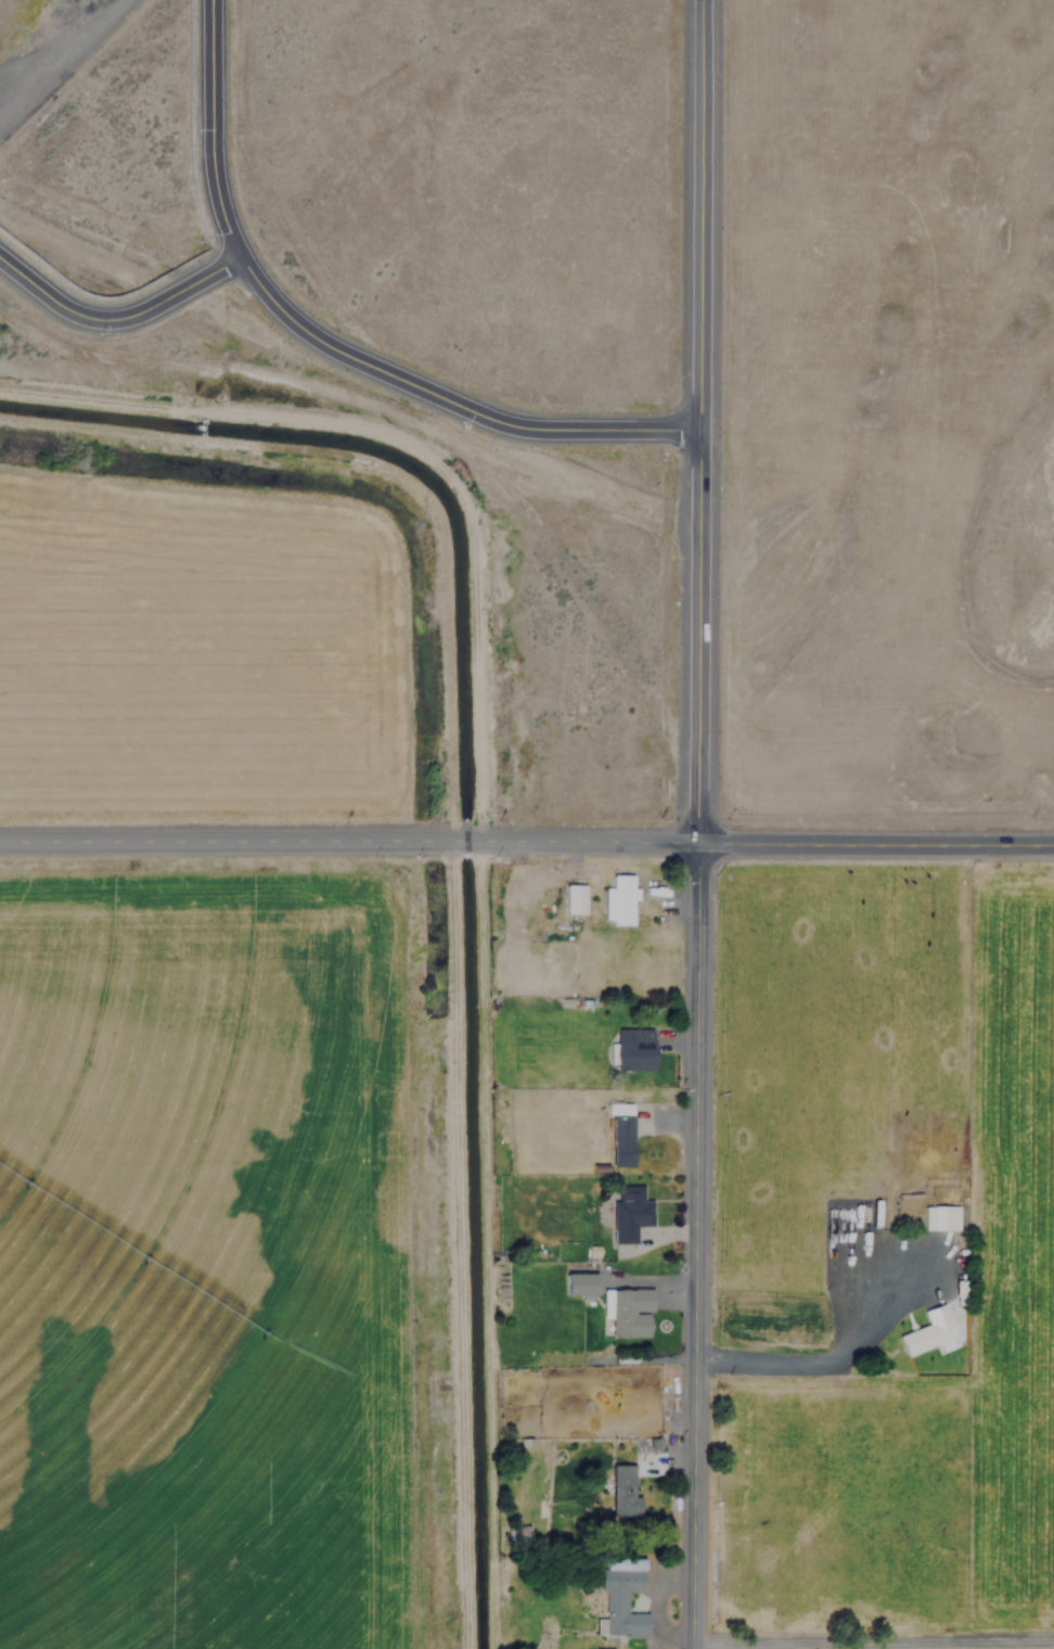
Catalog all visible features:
road: (327, 345)
road: (700, 422)
road: (527, 841)
building: (500, 882)
building: (619, 897)
building: (573, 898)
building: (631, 1048)
building: (618, 1108)
building: (620, 1140)
building: (628, 1212)
building: (940, 1217)
road: (487, 1244)
road: (695, 1248)
building: (577, 1282)
building: (626, 1311)
road: (886, 1326)
building: (921, 1337)
building: (622, 1491)
building: (618, 1598)
building: (606, 1648)

